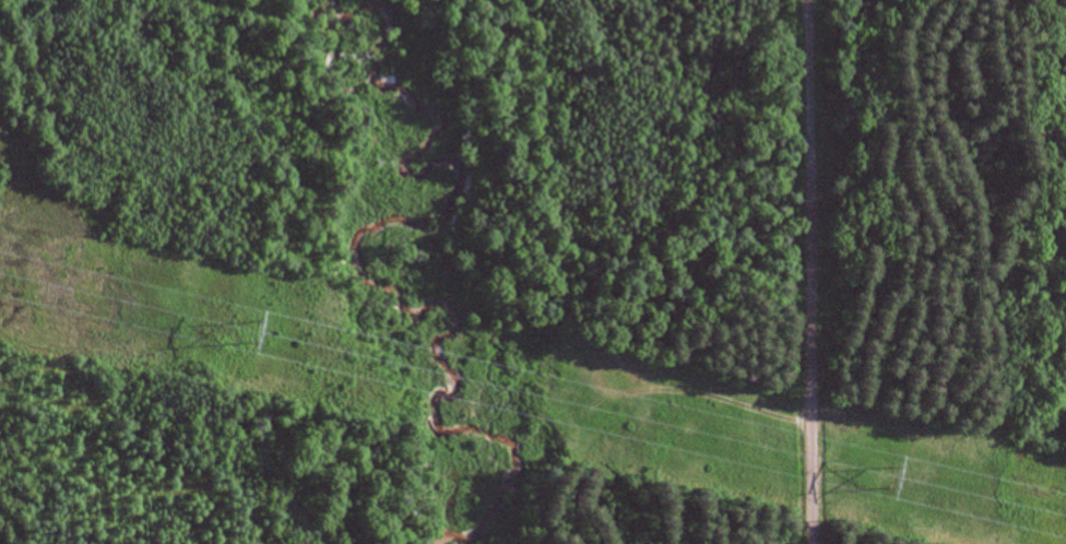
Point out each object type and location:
road: (807, 272)
power tower: (258, 332)
power tower: (898, 478)

